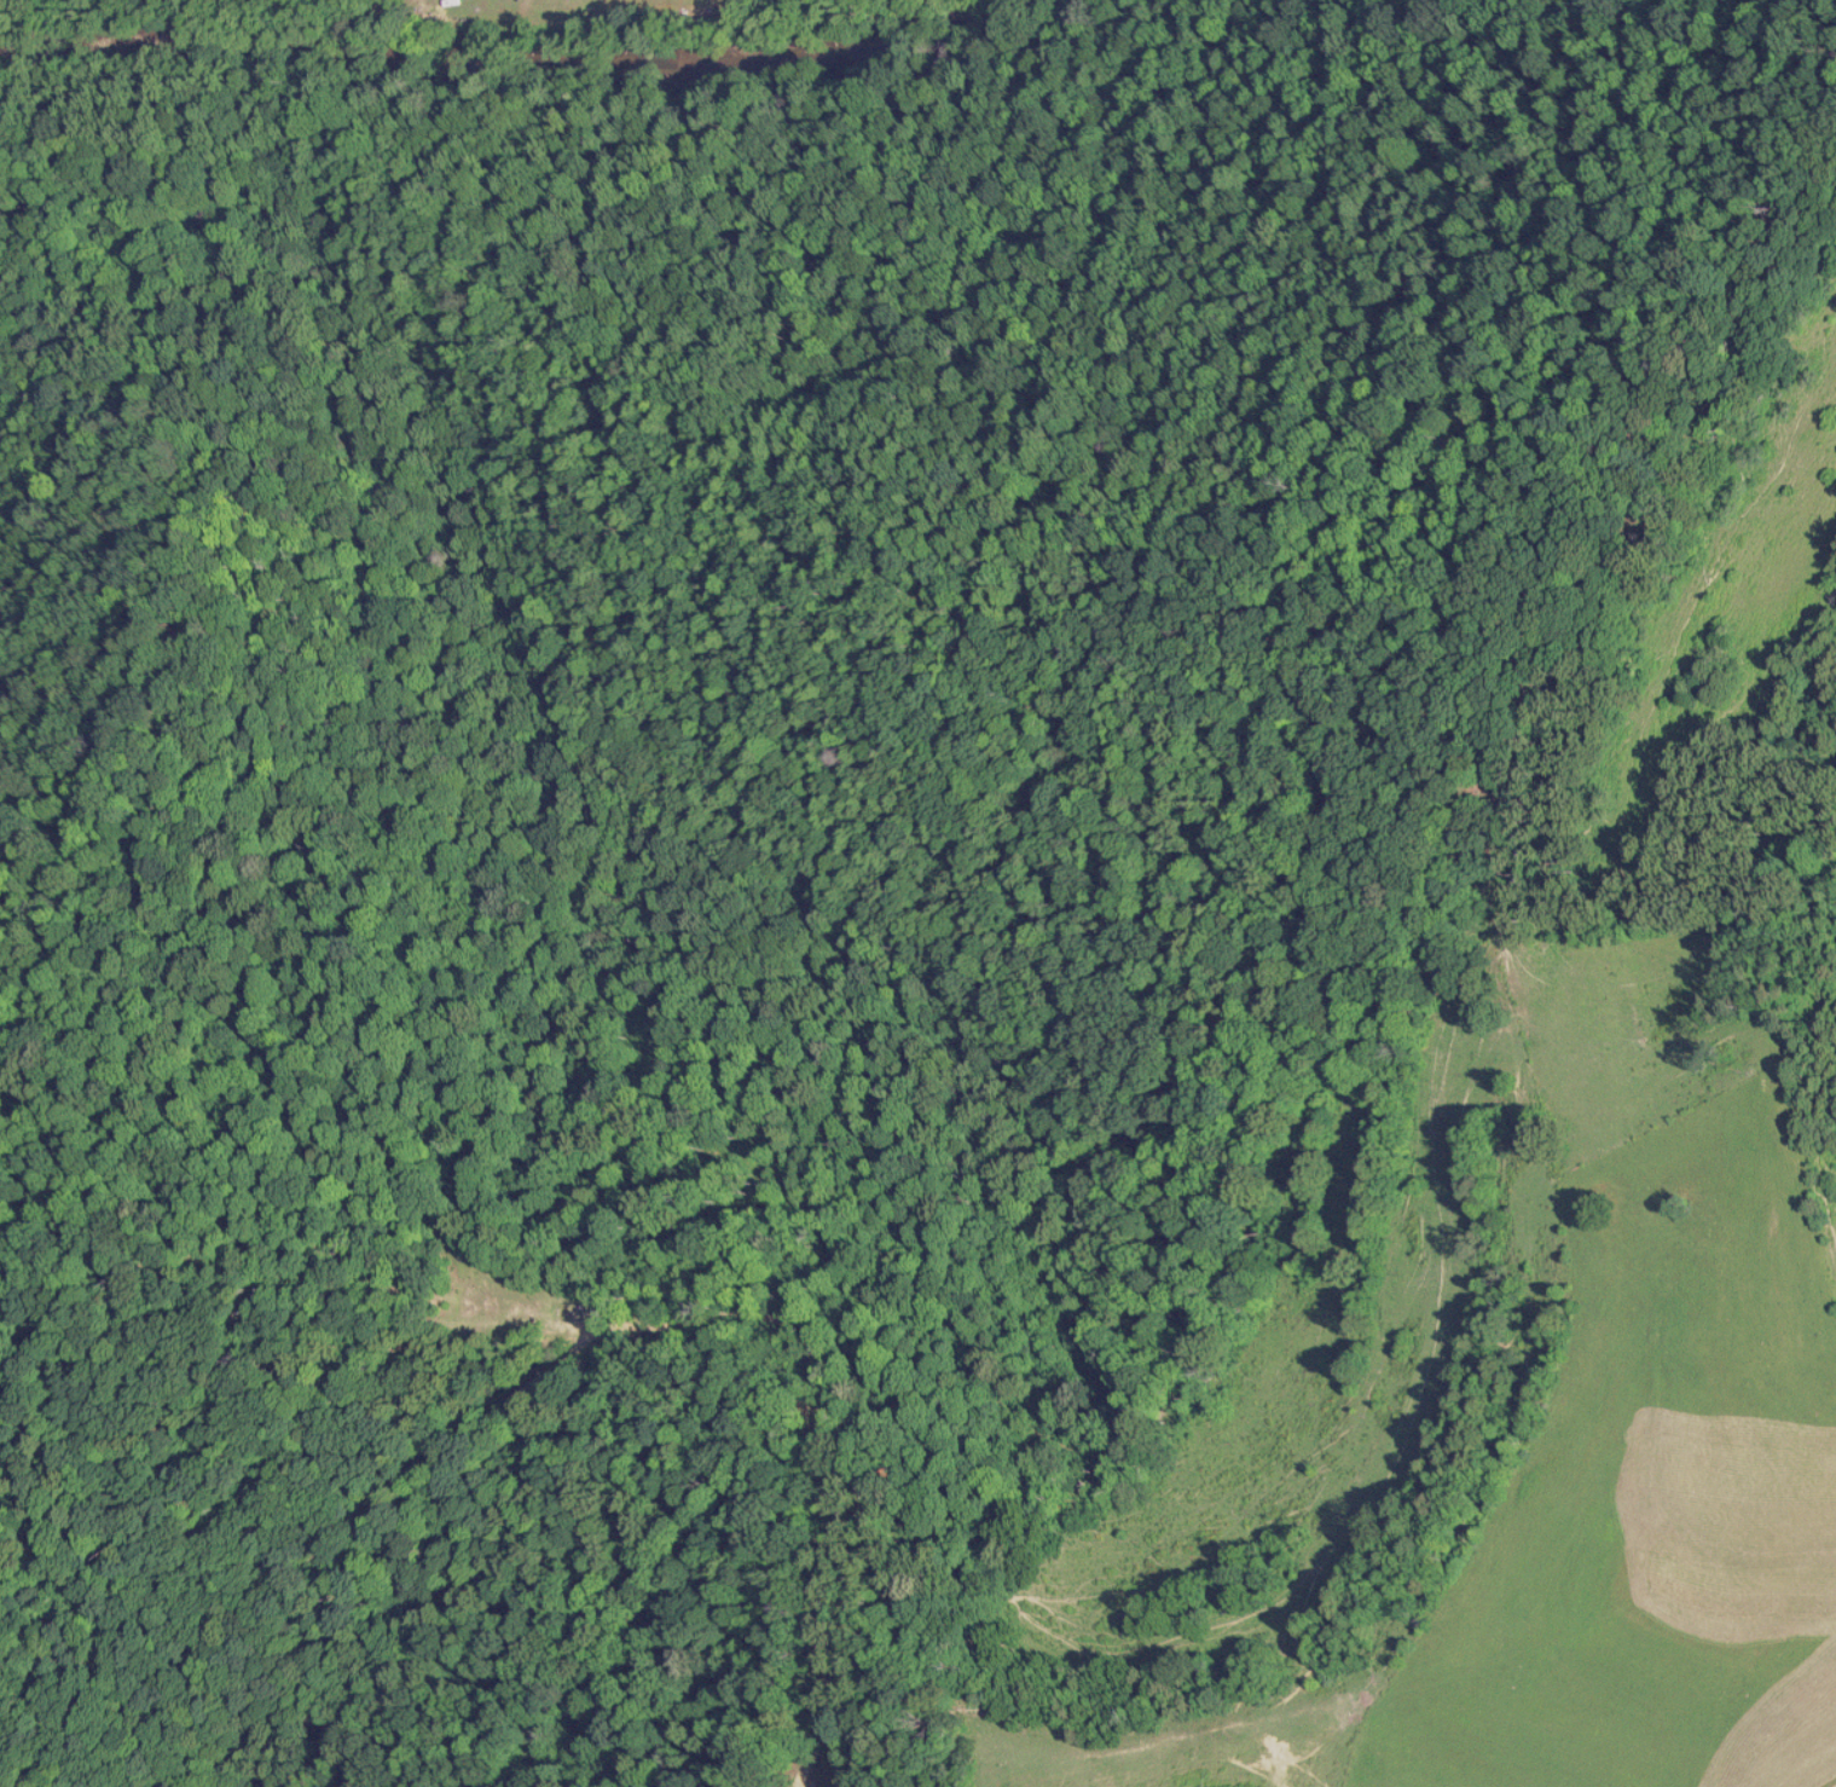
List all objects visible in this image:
road: (595, 1346)
road: (1800, 1750)

